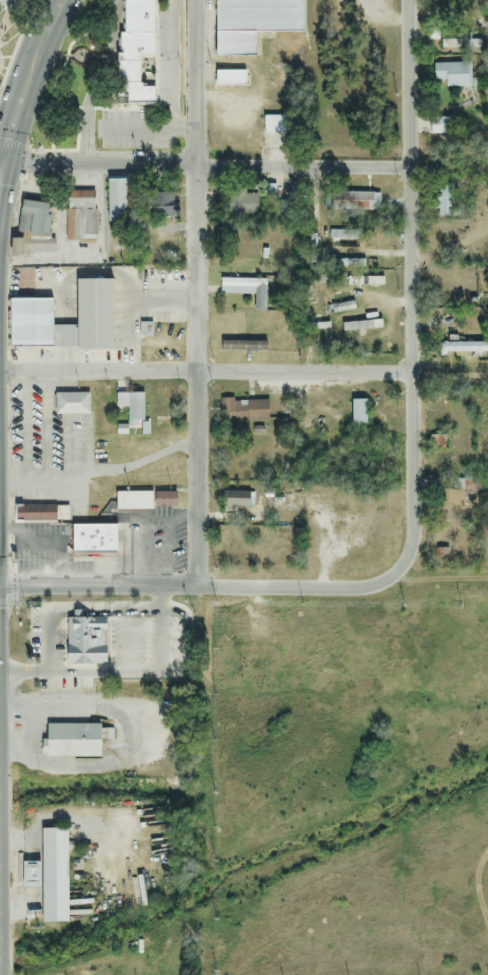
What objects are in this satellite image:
building: (252, 24)
building: (453, 47)
building: (133, 52)
road: (172, 64)
building: (452, 75)
road: (26, 79)
building: (230, 79)
road: (408, 82)
building: (271, 126)
building: (439, 127)
road: (148, 129)
road: (1, 163)
traffic signals: (2, 163)
road: (205, 164)
road: (1, 167)
building: (269, 193)
building: (118, 200)
building: (445, 201)
building: (357, 202)
building: (240, 203)
building: (158, 205)
building: (83, 216)
building: (34, 228)
building: (345, 239)
building: (350, 264)
road: (195, 292)
building: (247, 292)
building: (311, 299)
building: (29, 314)
building: (360, 326)
building: (291, 340)
building: (165, 343)
building: (240, 347)
building: (465, 349)
road: (205, 374)
road: (411, 374)
building: (70, 404)
building: (134, 410)
building: (243, 411)
building: (358, 412)
road: (26, 429)
building: (437, 443)
road: (100, 473)
building: (453, 498)
building: (235, 500)
building: (144, 501)
building: (40, 514)
building: (93, 540)
road: (427, 580)
road: (197, 585)
road: (162, 598)
road: (181, 616)
building: (84, 642)
road: (25, 674)
road: (26, 733)
road: (130, 739)
building: (71, 742)
building: (28, 875)
building: (52, 875)

